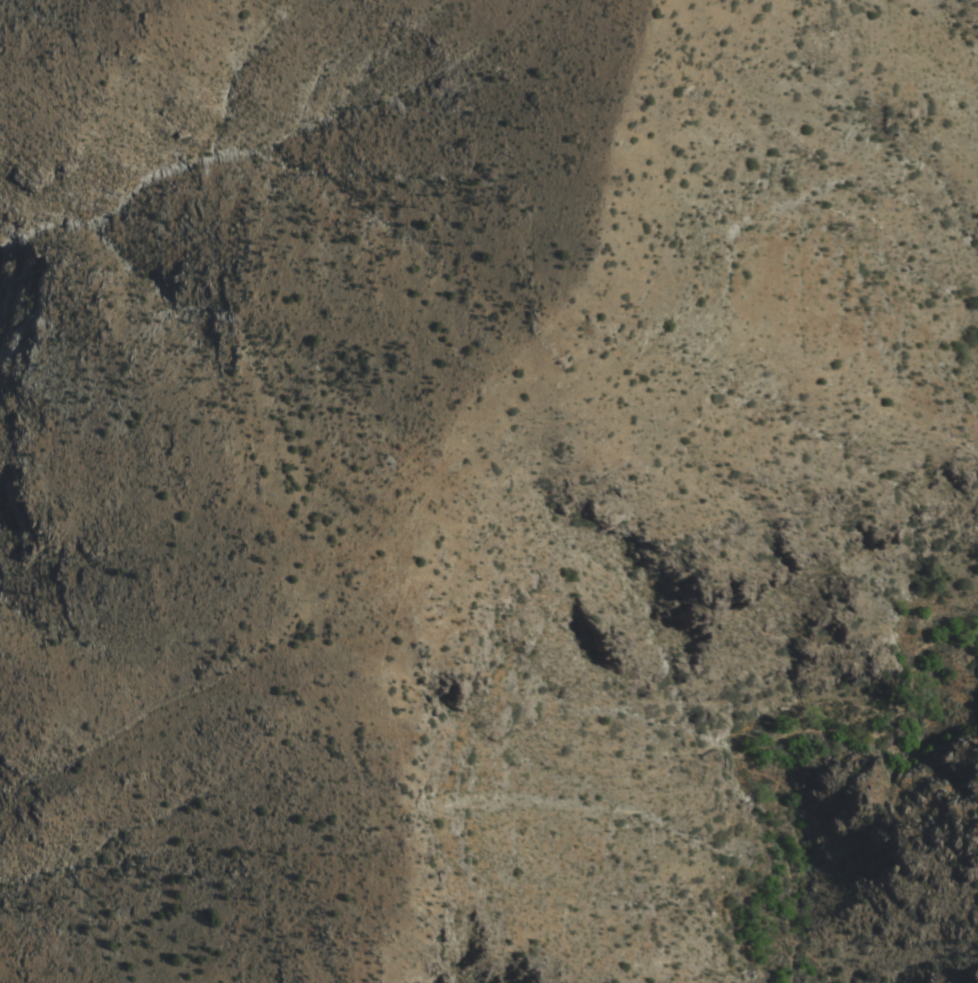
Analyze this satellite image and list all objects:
road: (771, 742)

